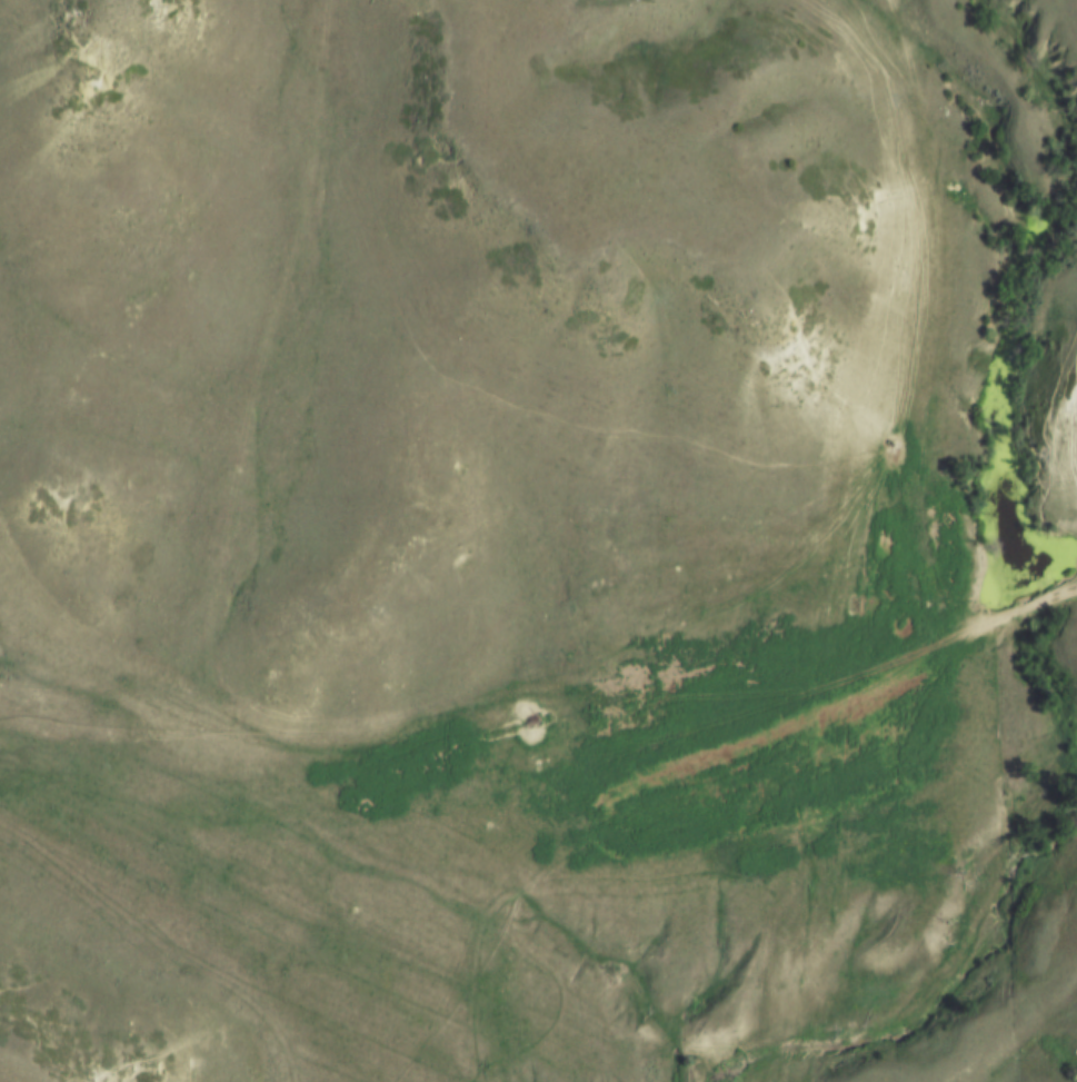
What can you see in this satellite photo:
road: (1027, 604)

